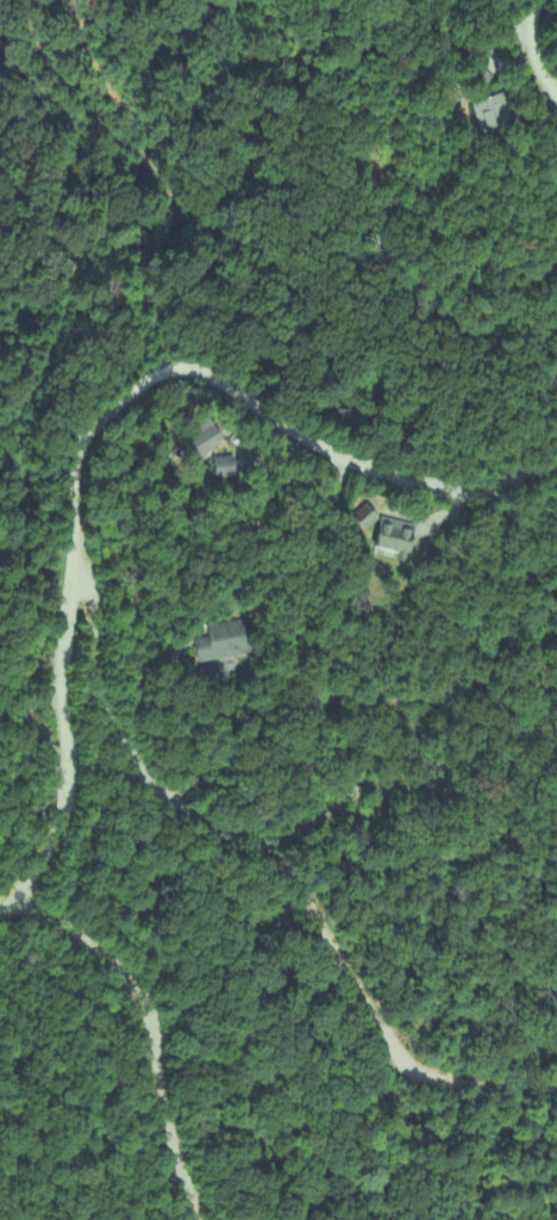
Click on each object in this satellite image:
road: (533, 46)
building: (483, 114)
road: (95, 418)
building: (195, 442)
building: (218, 469)
building: (361, 519)
building: (390, 542)
building: (217, 647)
road: (534, 658)
road: (43, 730)
road: (215, 739)
road: (283, 864)
road: (152, 1027)

